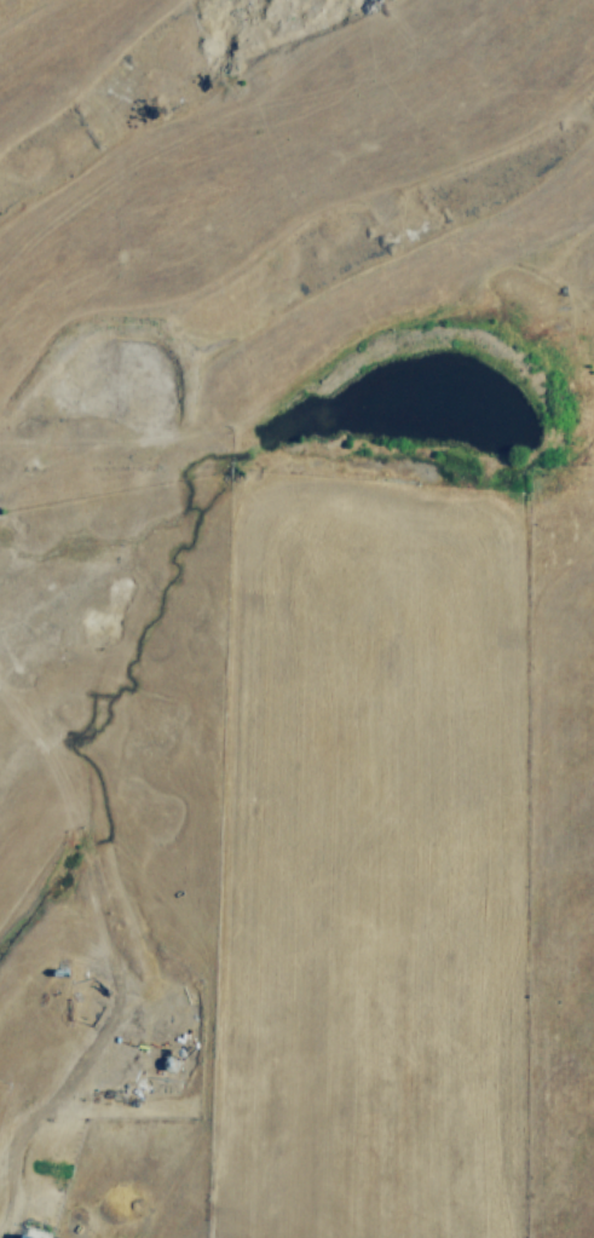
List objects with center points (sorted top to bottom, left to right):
building: (29, 1234)

